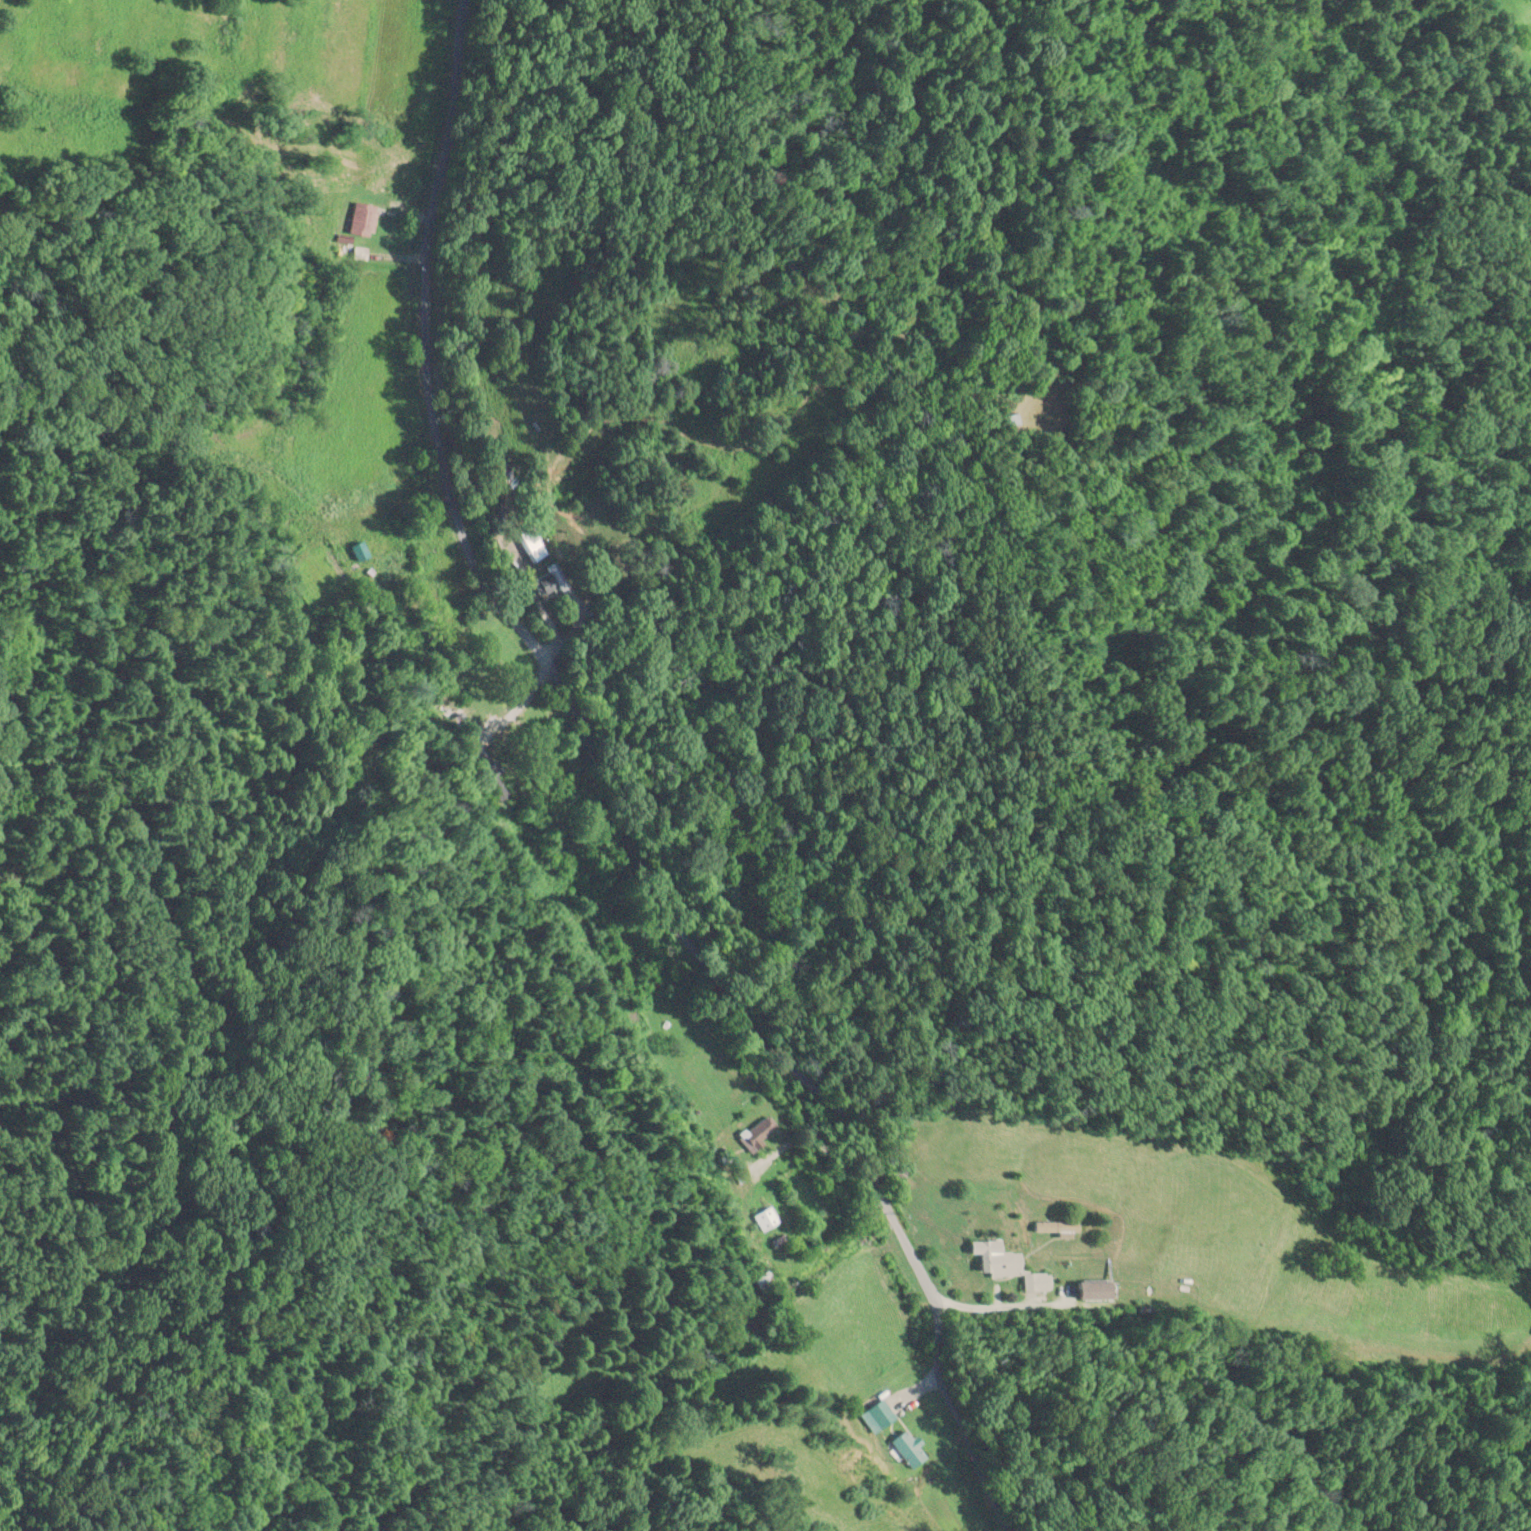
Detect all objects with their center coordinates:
building: (360, 219)
building: (1014, 420)
building: (533, 544)
building: (354, 551)
building: (548, 582)
road: (602, 800)
building: (756, 1132)
building: (763, 1218)
building: (1053, 1226)
building: (992, 1258)
building: (759, 1278)
building: (1036, 1281)
building: (1098, 1291)
building: (875, 1414)
building: (906, 1448)

